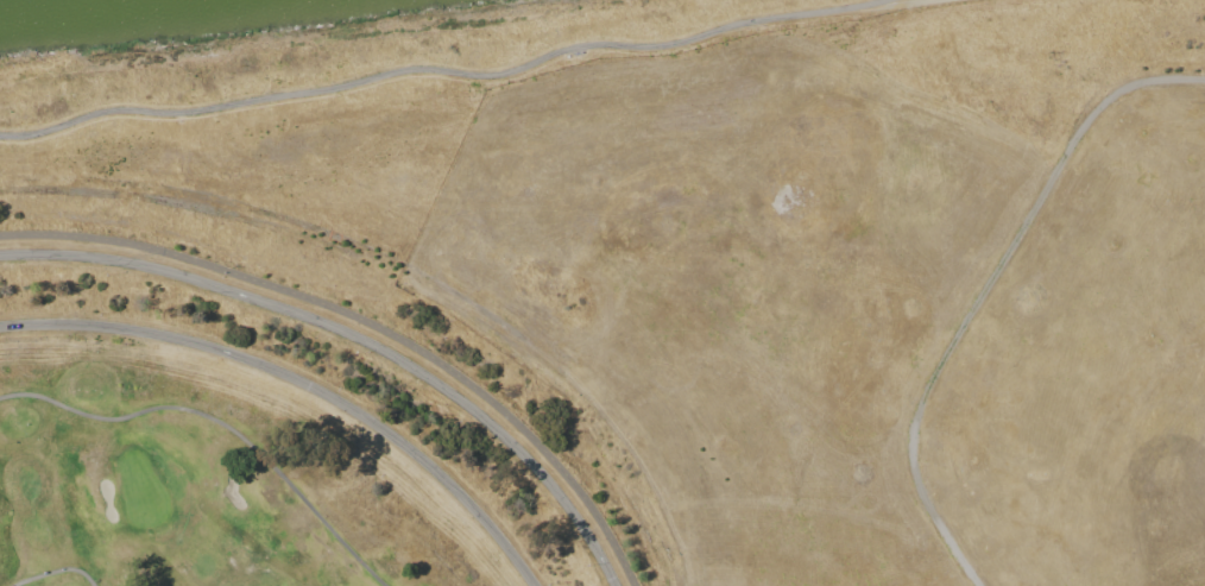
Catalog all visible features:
road: (448, 70)
road: (986, 291)
park: (630, 317)
road: (368, 321)
road: (354, 335)
road: (302, 382)
road: (219, 429)
park: (202, 485)
road: (70, 578)

